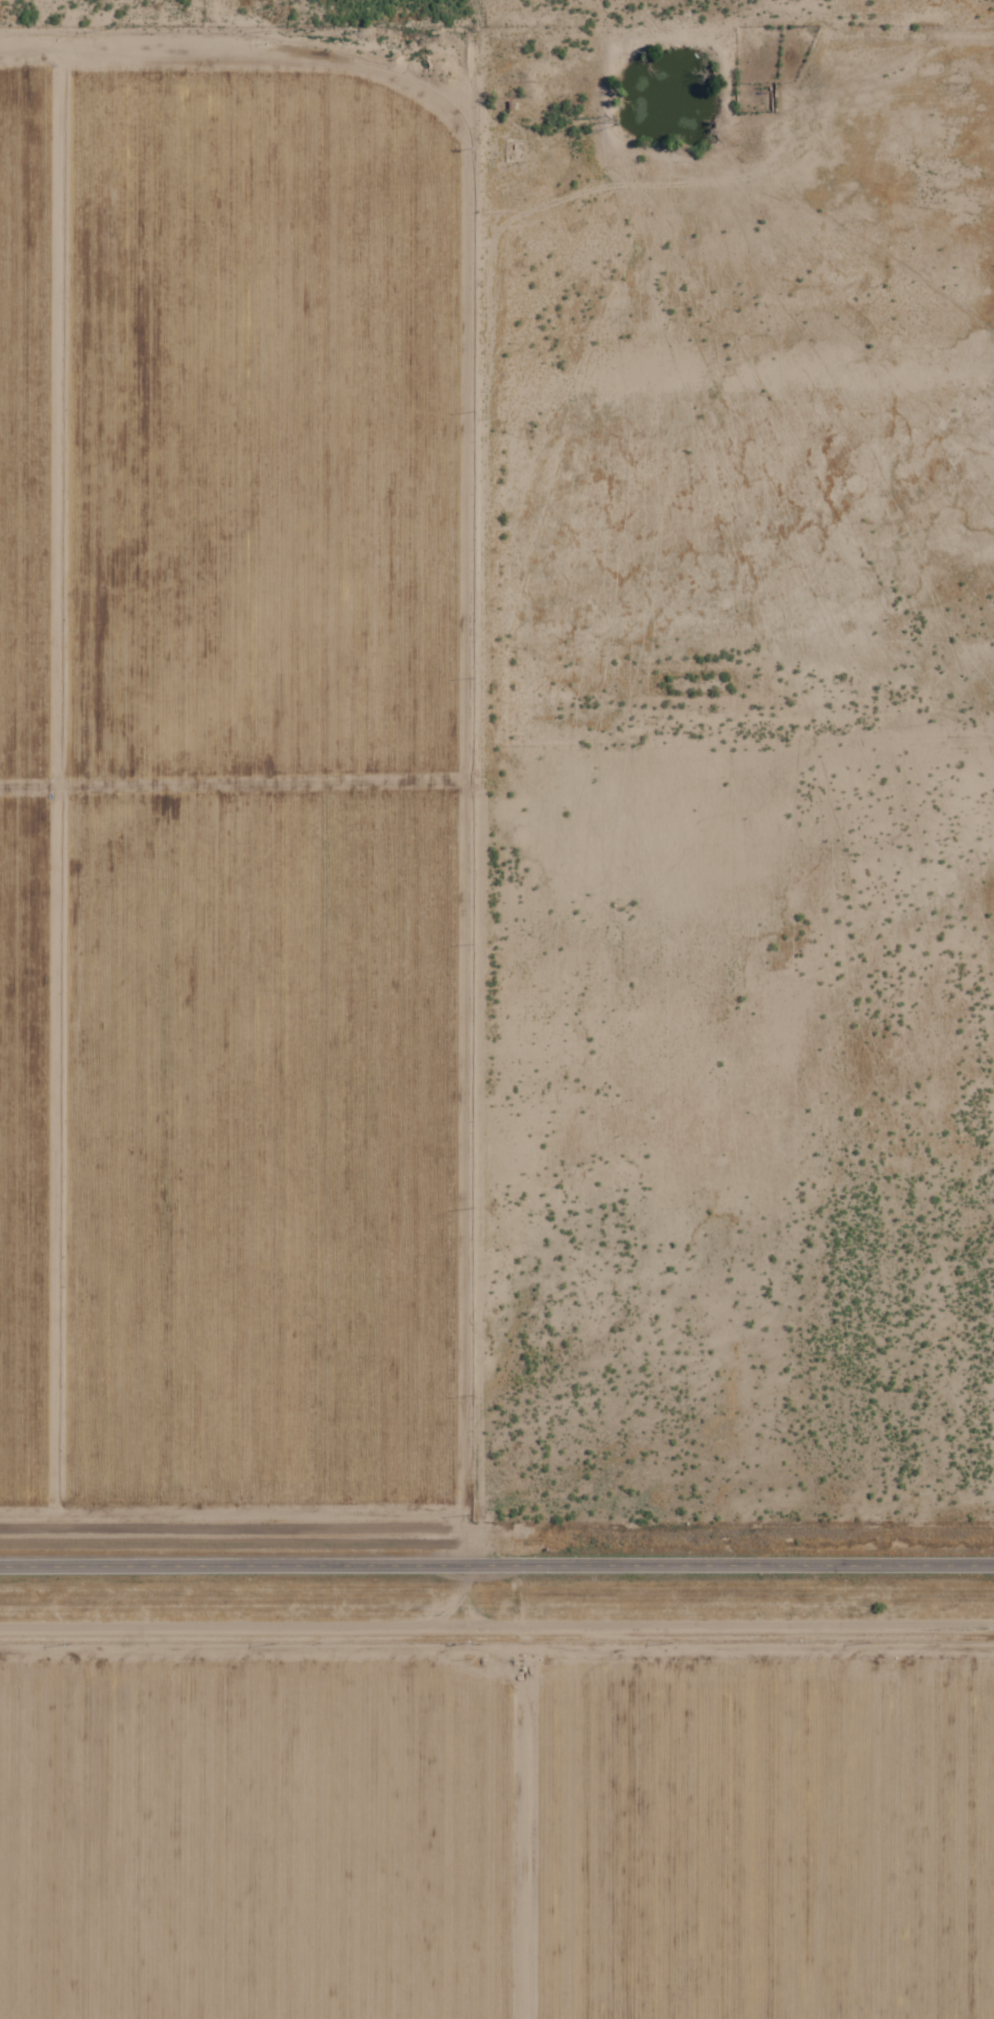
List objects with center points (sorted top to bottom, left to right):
crop: (24, 420)
crop: (259, 427)
road: (461, 606)
road: (230, 782)
road: (56, 784)
crop: (23, 1147)
crop: (260, 1147)
road: (496, 1565)

